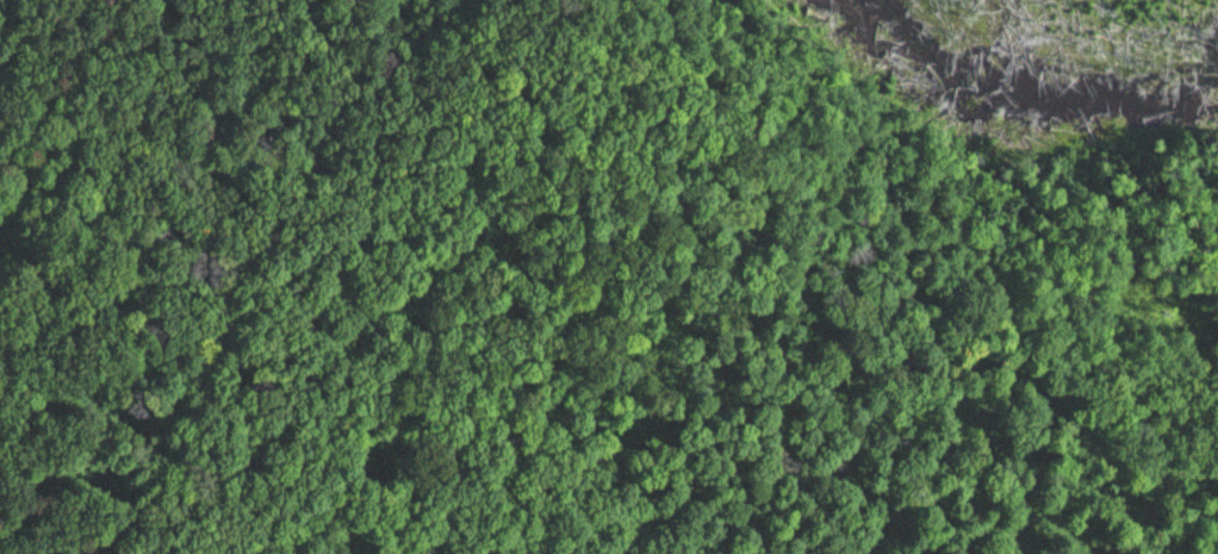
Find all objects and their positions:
river: (1031, 93)
road: (69, 168)

